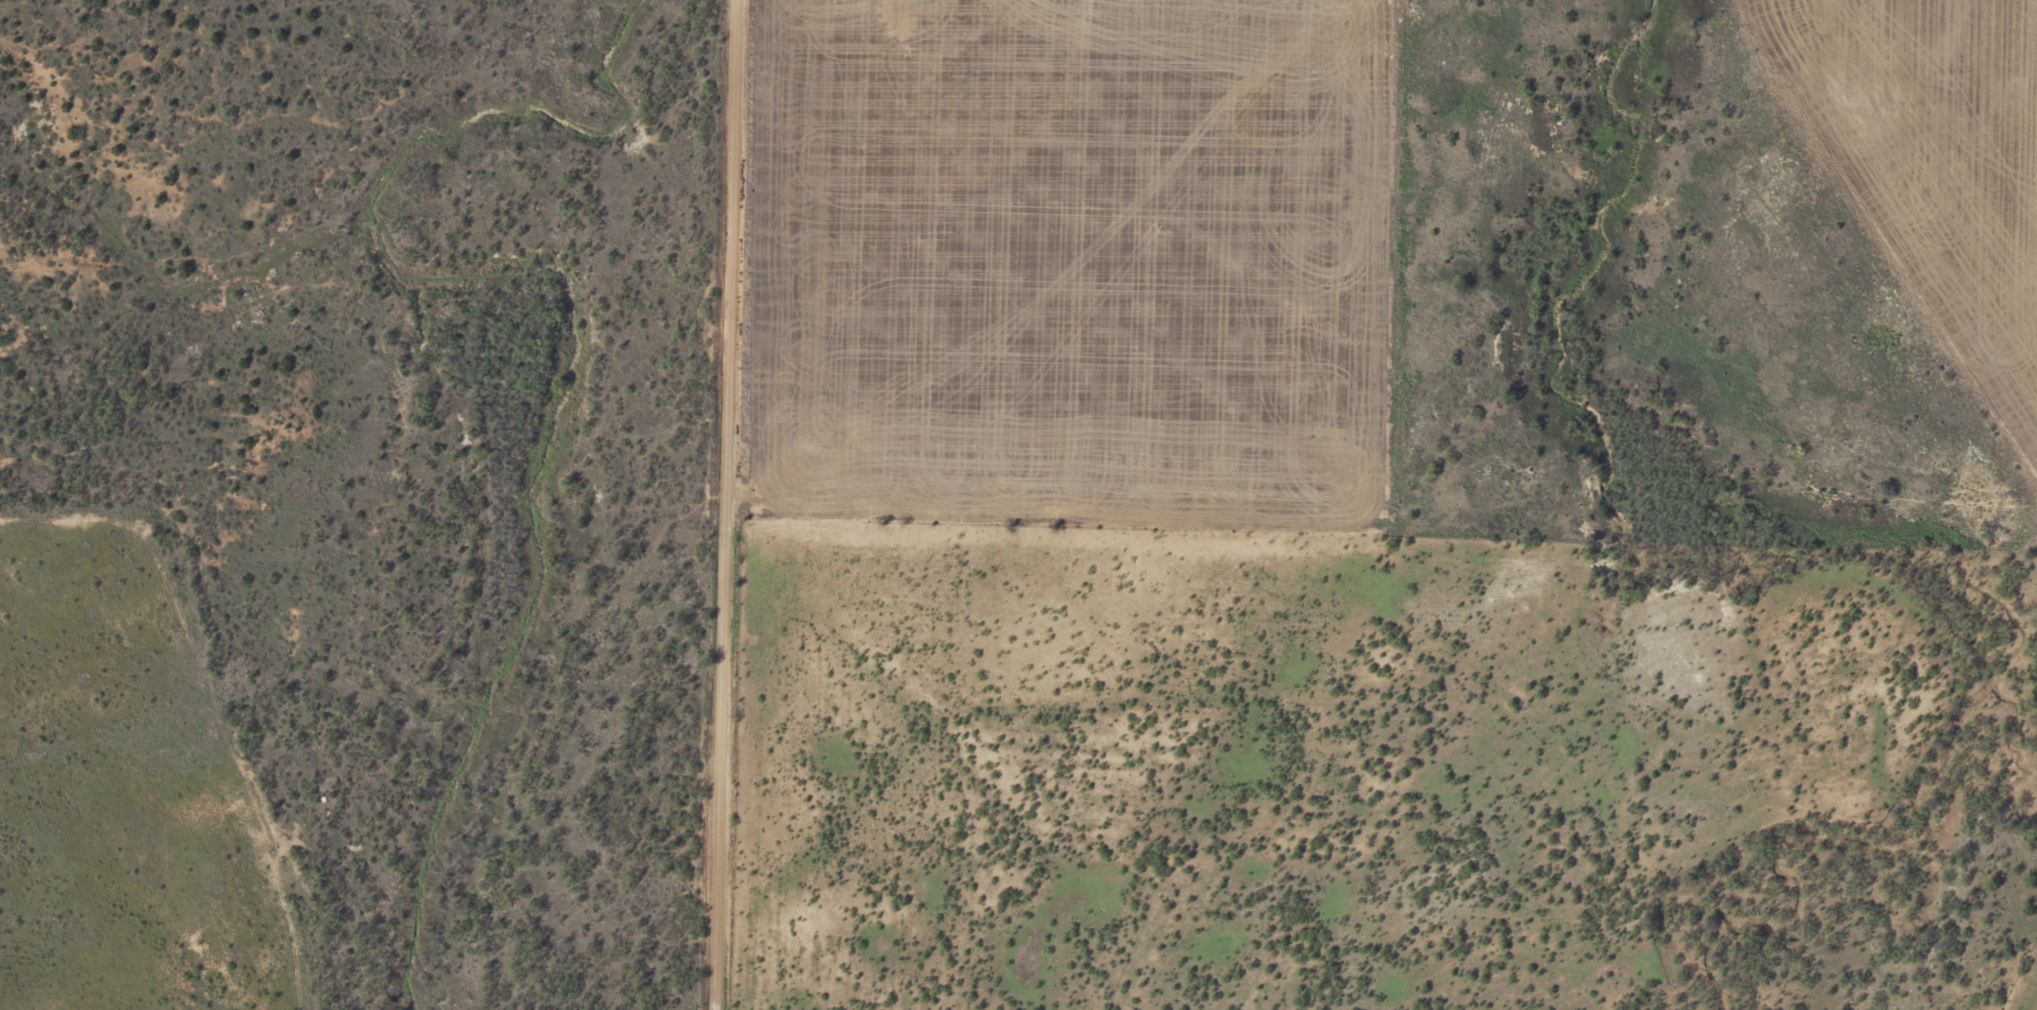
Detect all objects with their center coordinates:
road: (727, 505)

